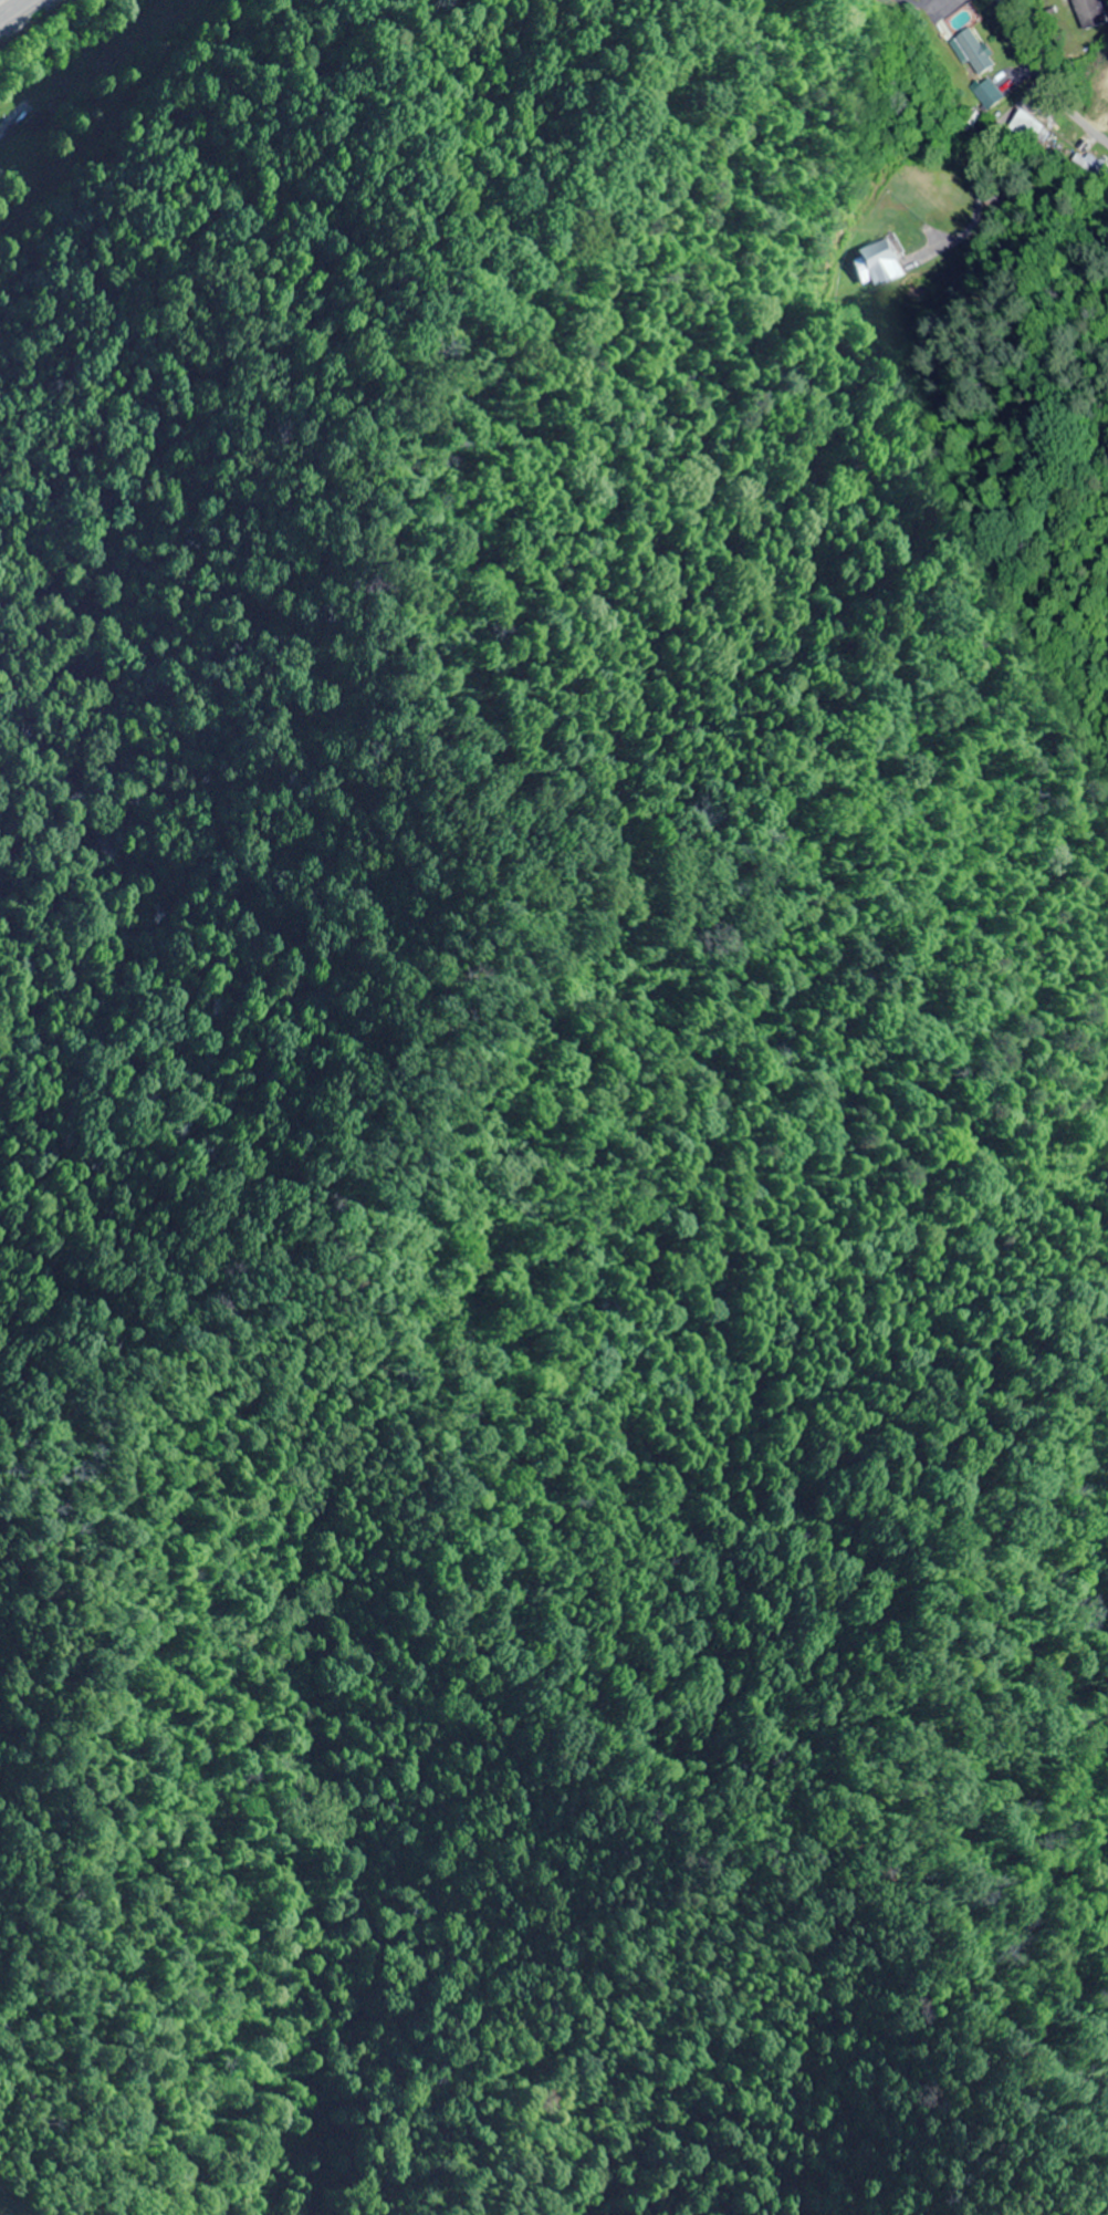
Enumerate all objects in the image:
road: (18, 11)
building: (1084, 13)
road: (1037, 83)
road: (4, 122)
building: (36, 123)
building: (1085, 165)
building: (879, 260)

